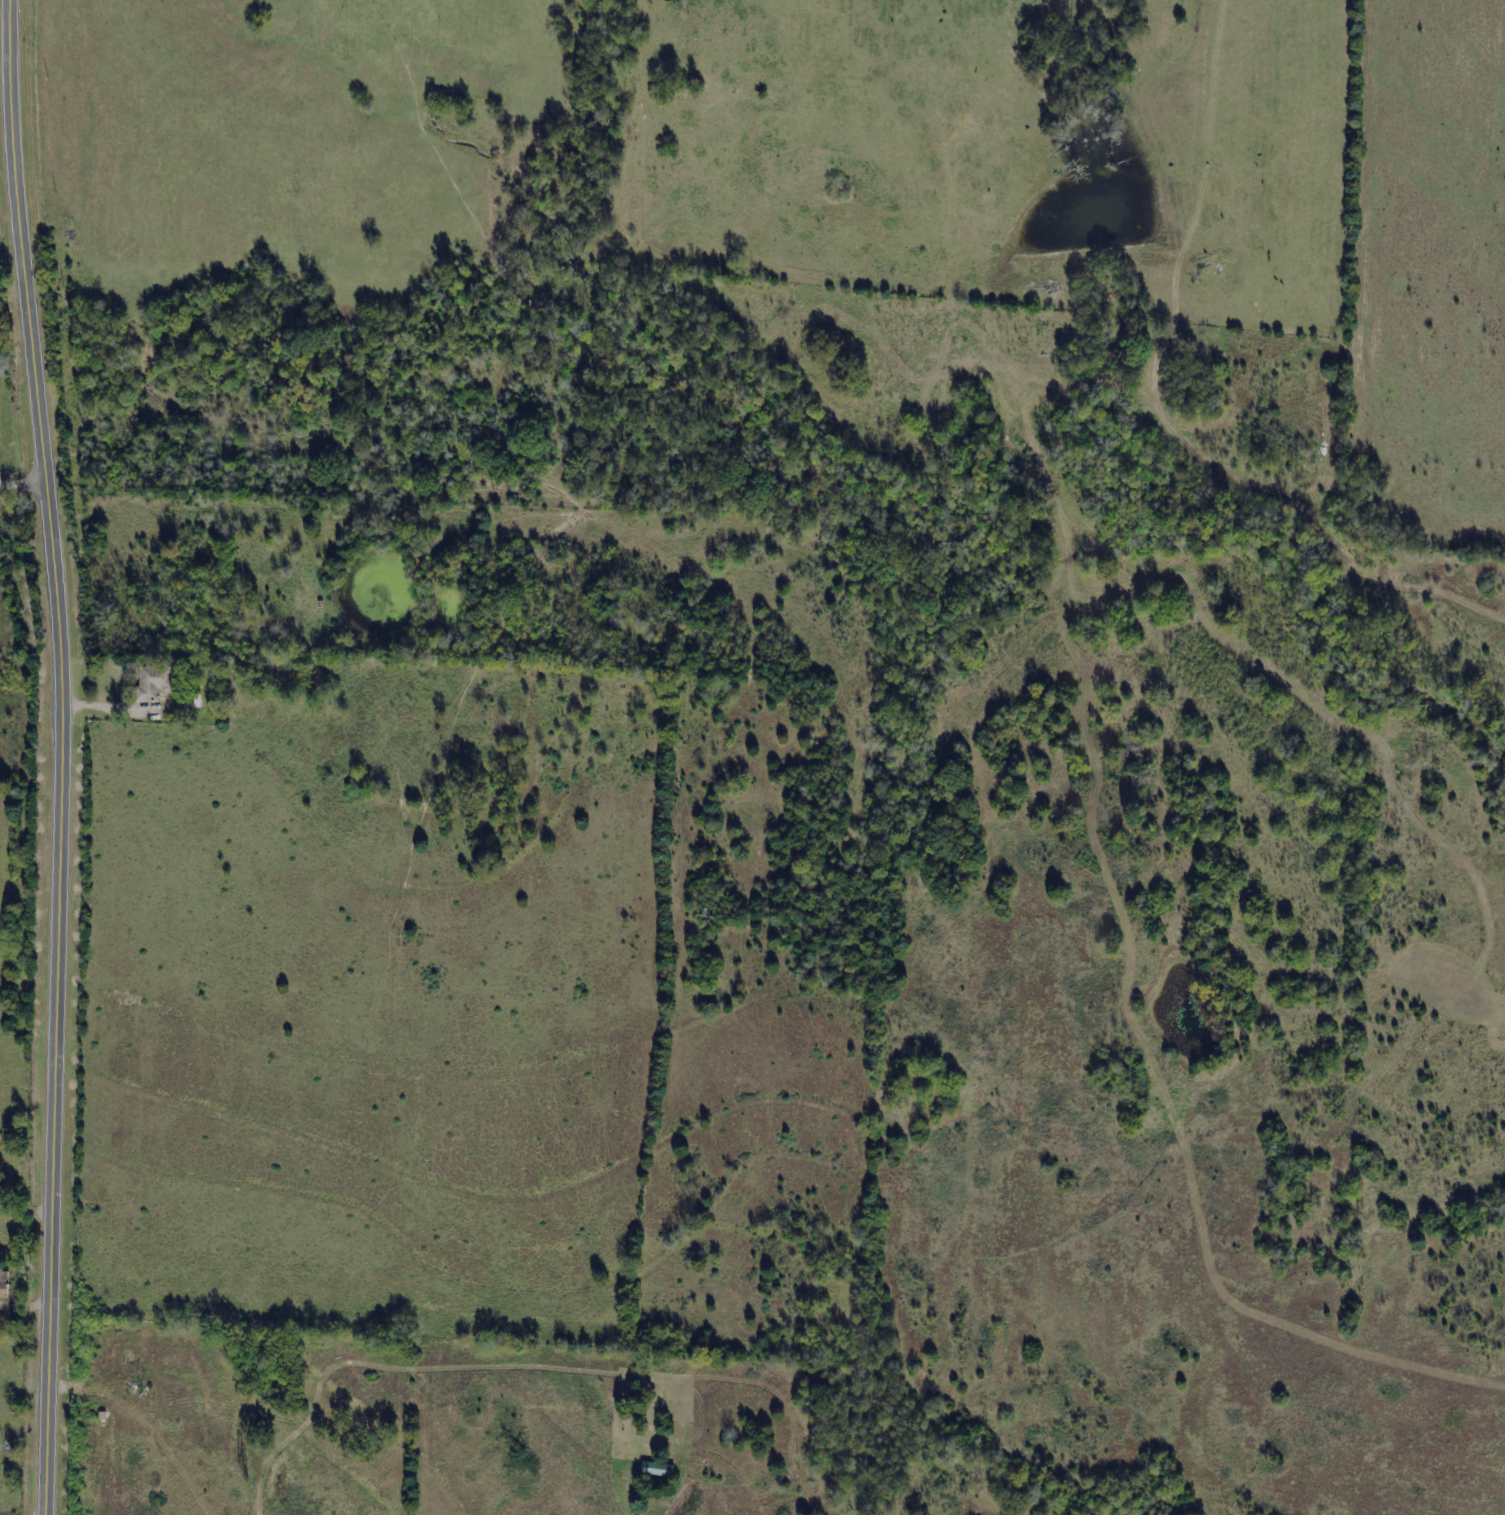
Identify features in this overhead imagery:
road: (22, 470)
building: (155, 682)
road: (59, 756)
building: (659, 1470)

